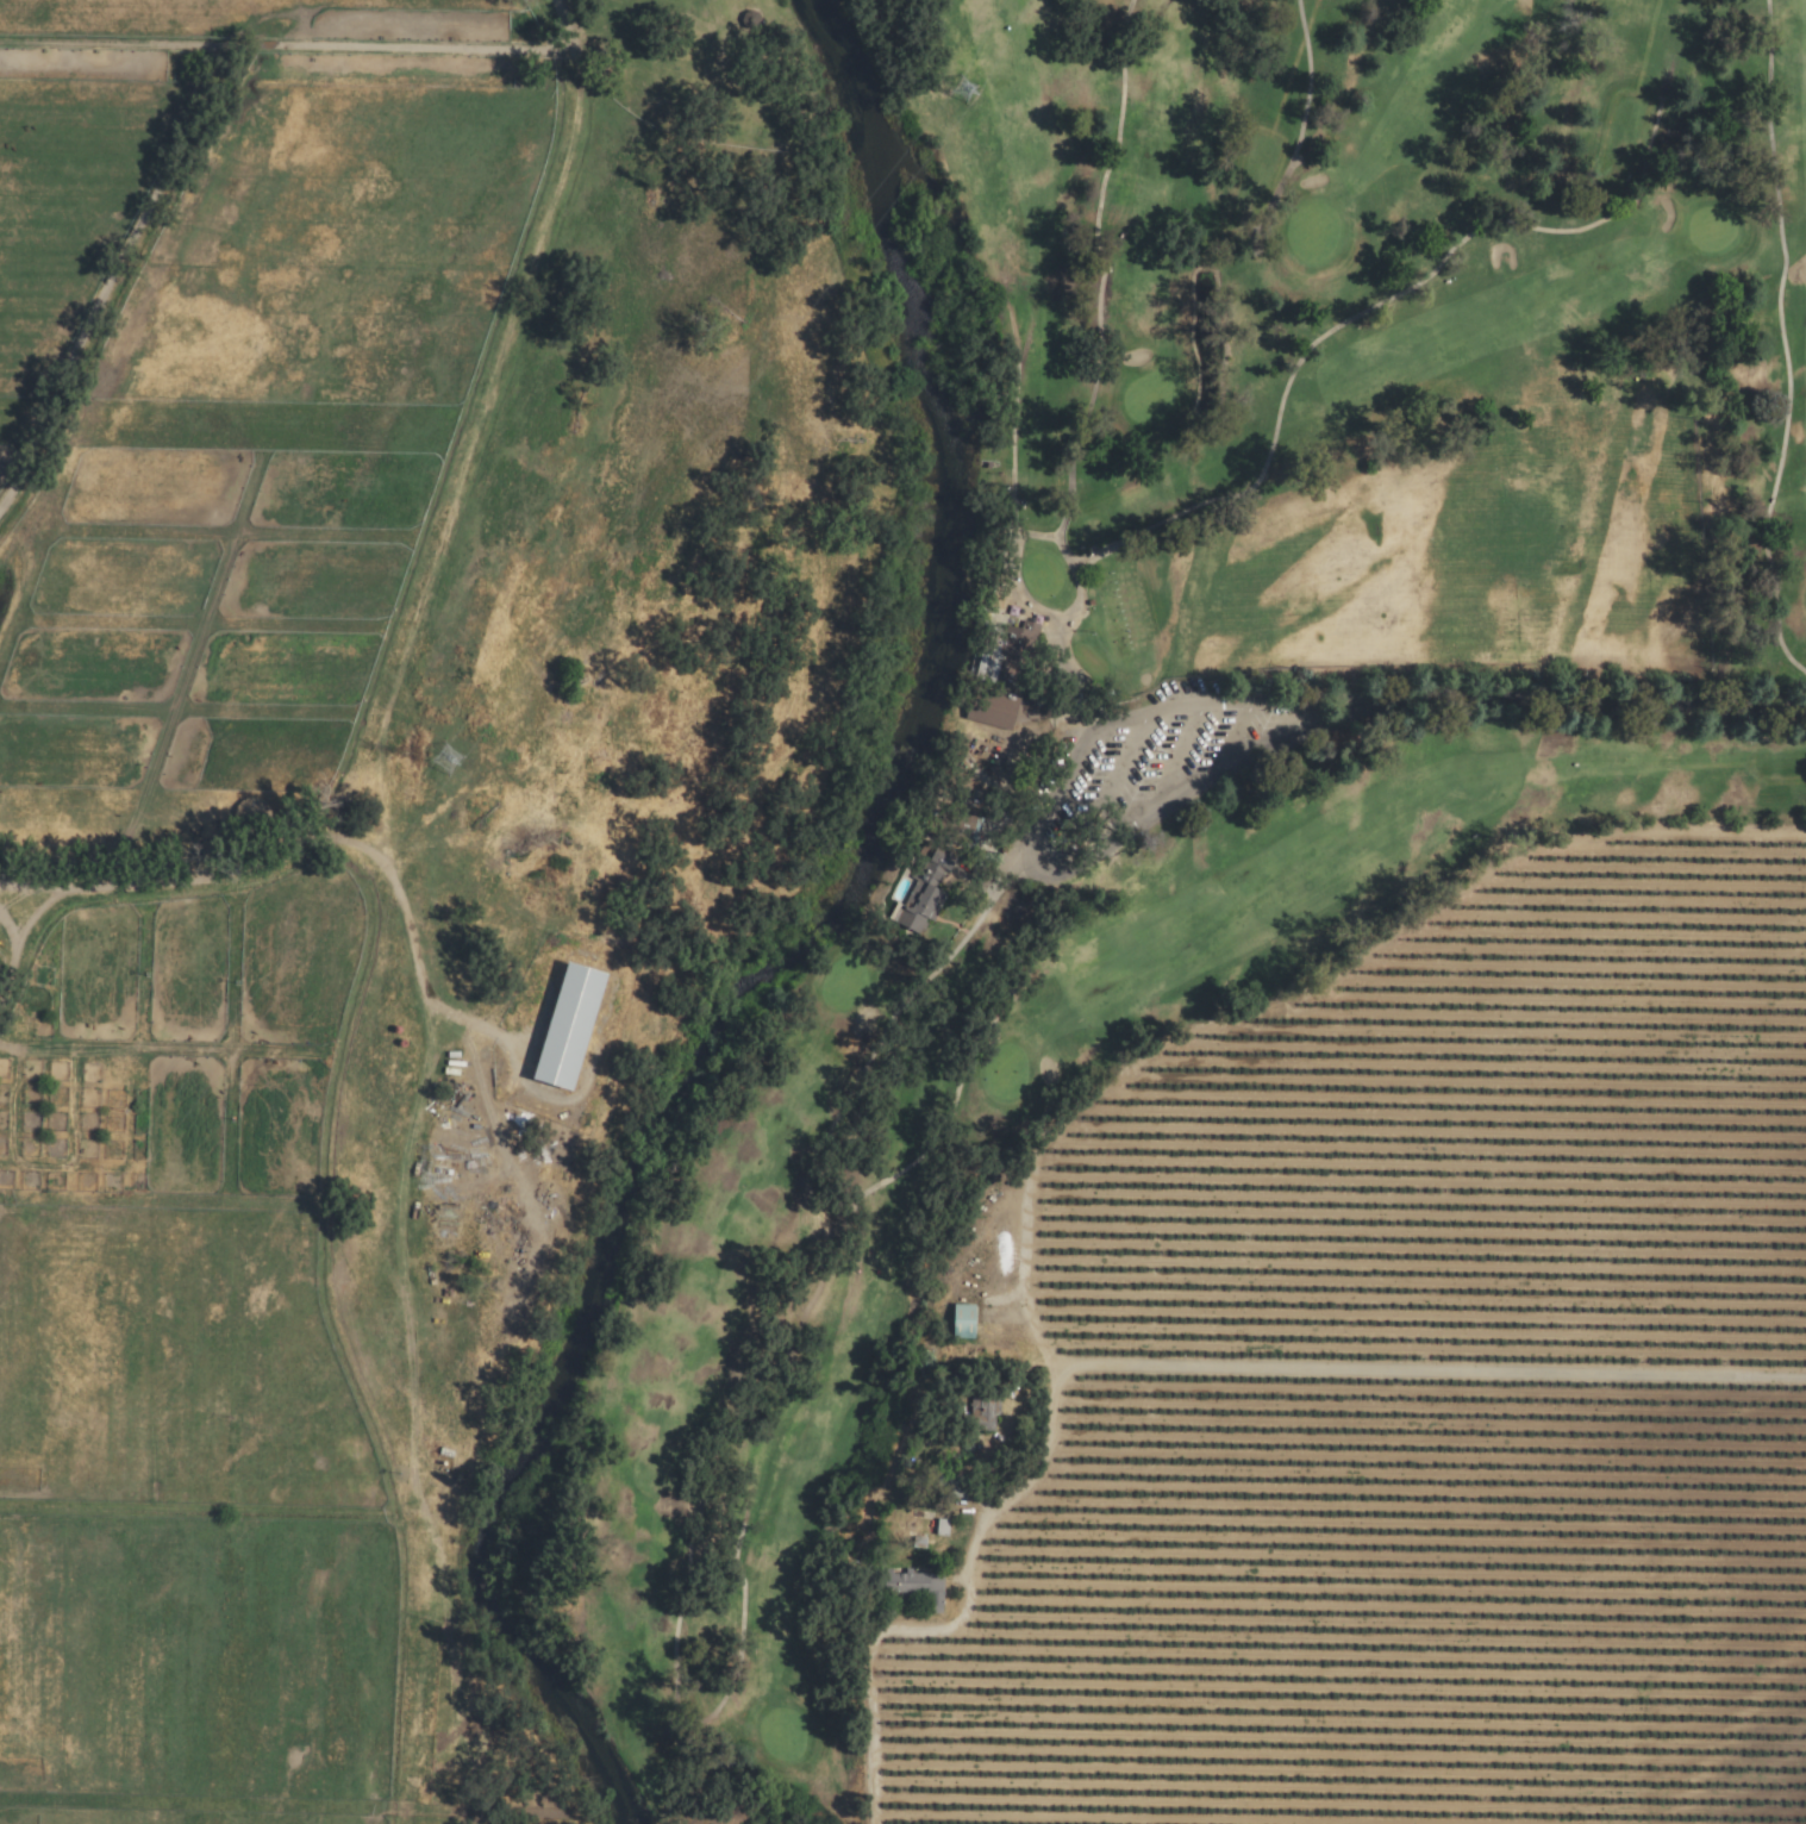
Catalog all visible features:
power tower: (958, 93)
crop: (505, 435)
building: (1021, 645)
park: (1241, 704)
road: (1577, 705)
building: (992, 708)
power tower: (440, 762)
road: (1030, 848)
building: (923, 893)
building: (568, 1026)
building: (962, 1322)
crop: (352, 1331)
road: (1435, 1372)
road: (1029, 1476)
building: (914, 1582)

